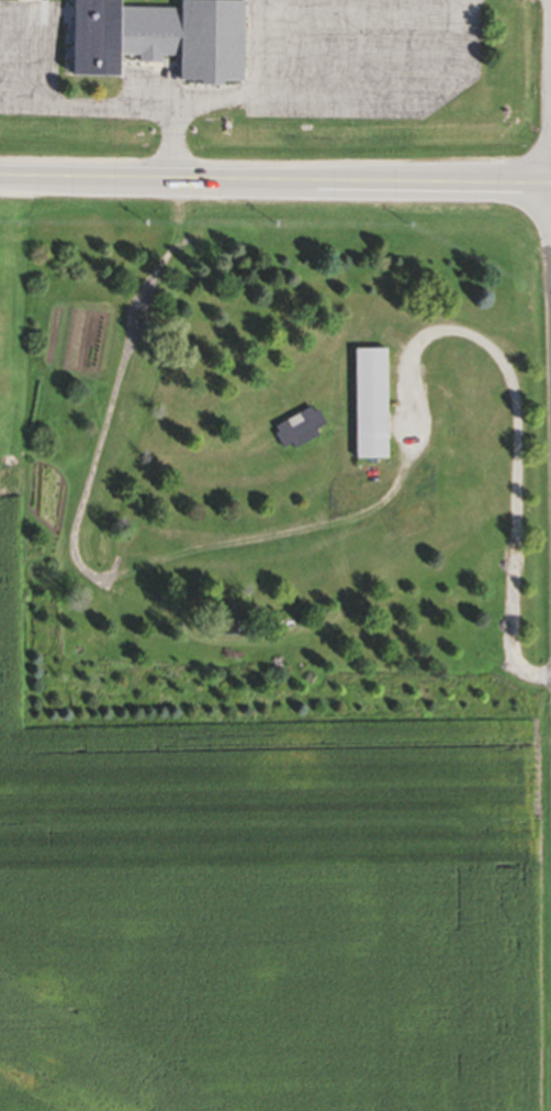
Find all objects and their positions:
road: (22, 11)
building: (156, 41)
road: (470, 44)
road: (255, 46)
road: (279, 97)
road: (95, 108)
road: (275, 180)
building: (368, 407)
building: (297, 431)
road: (511, 442)

